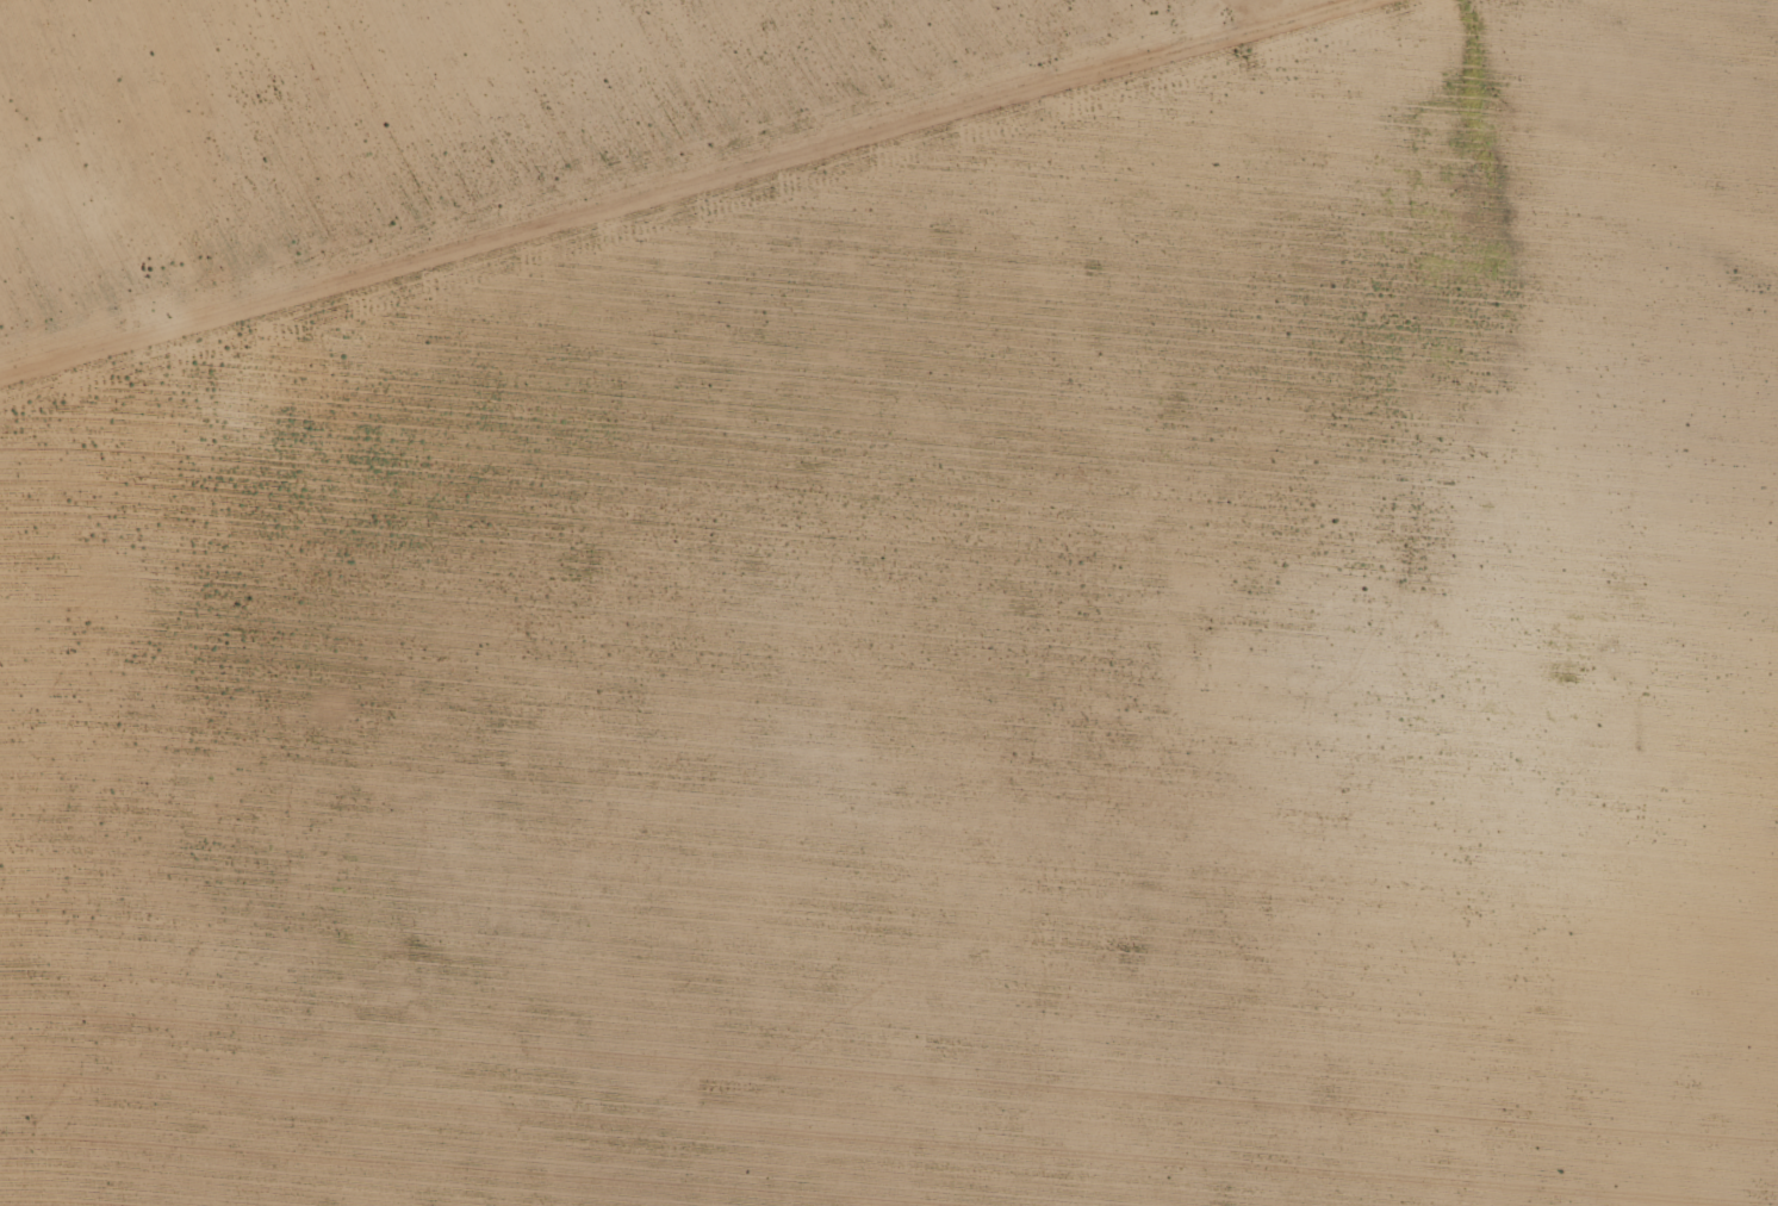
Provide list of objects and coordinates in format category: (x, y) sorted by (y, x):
road: (765, 210)
road: (1655, 537)

